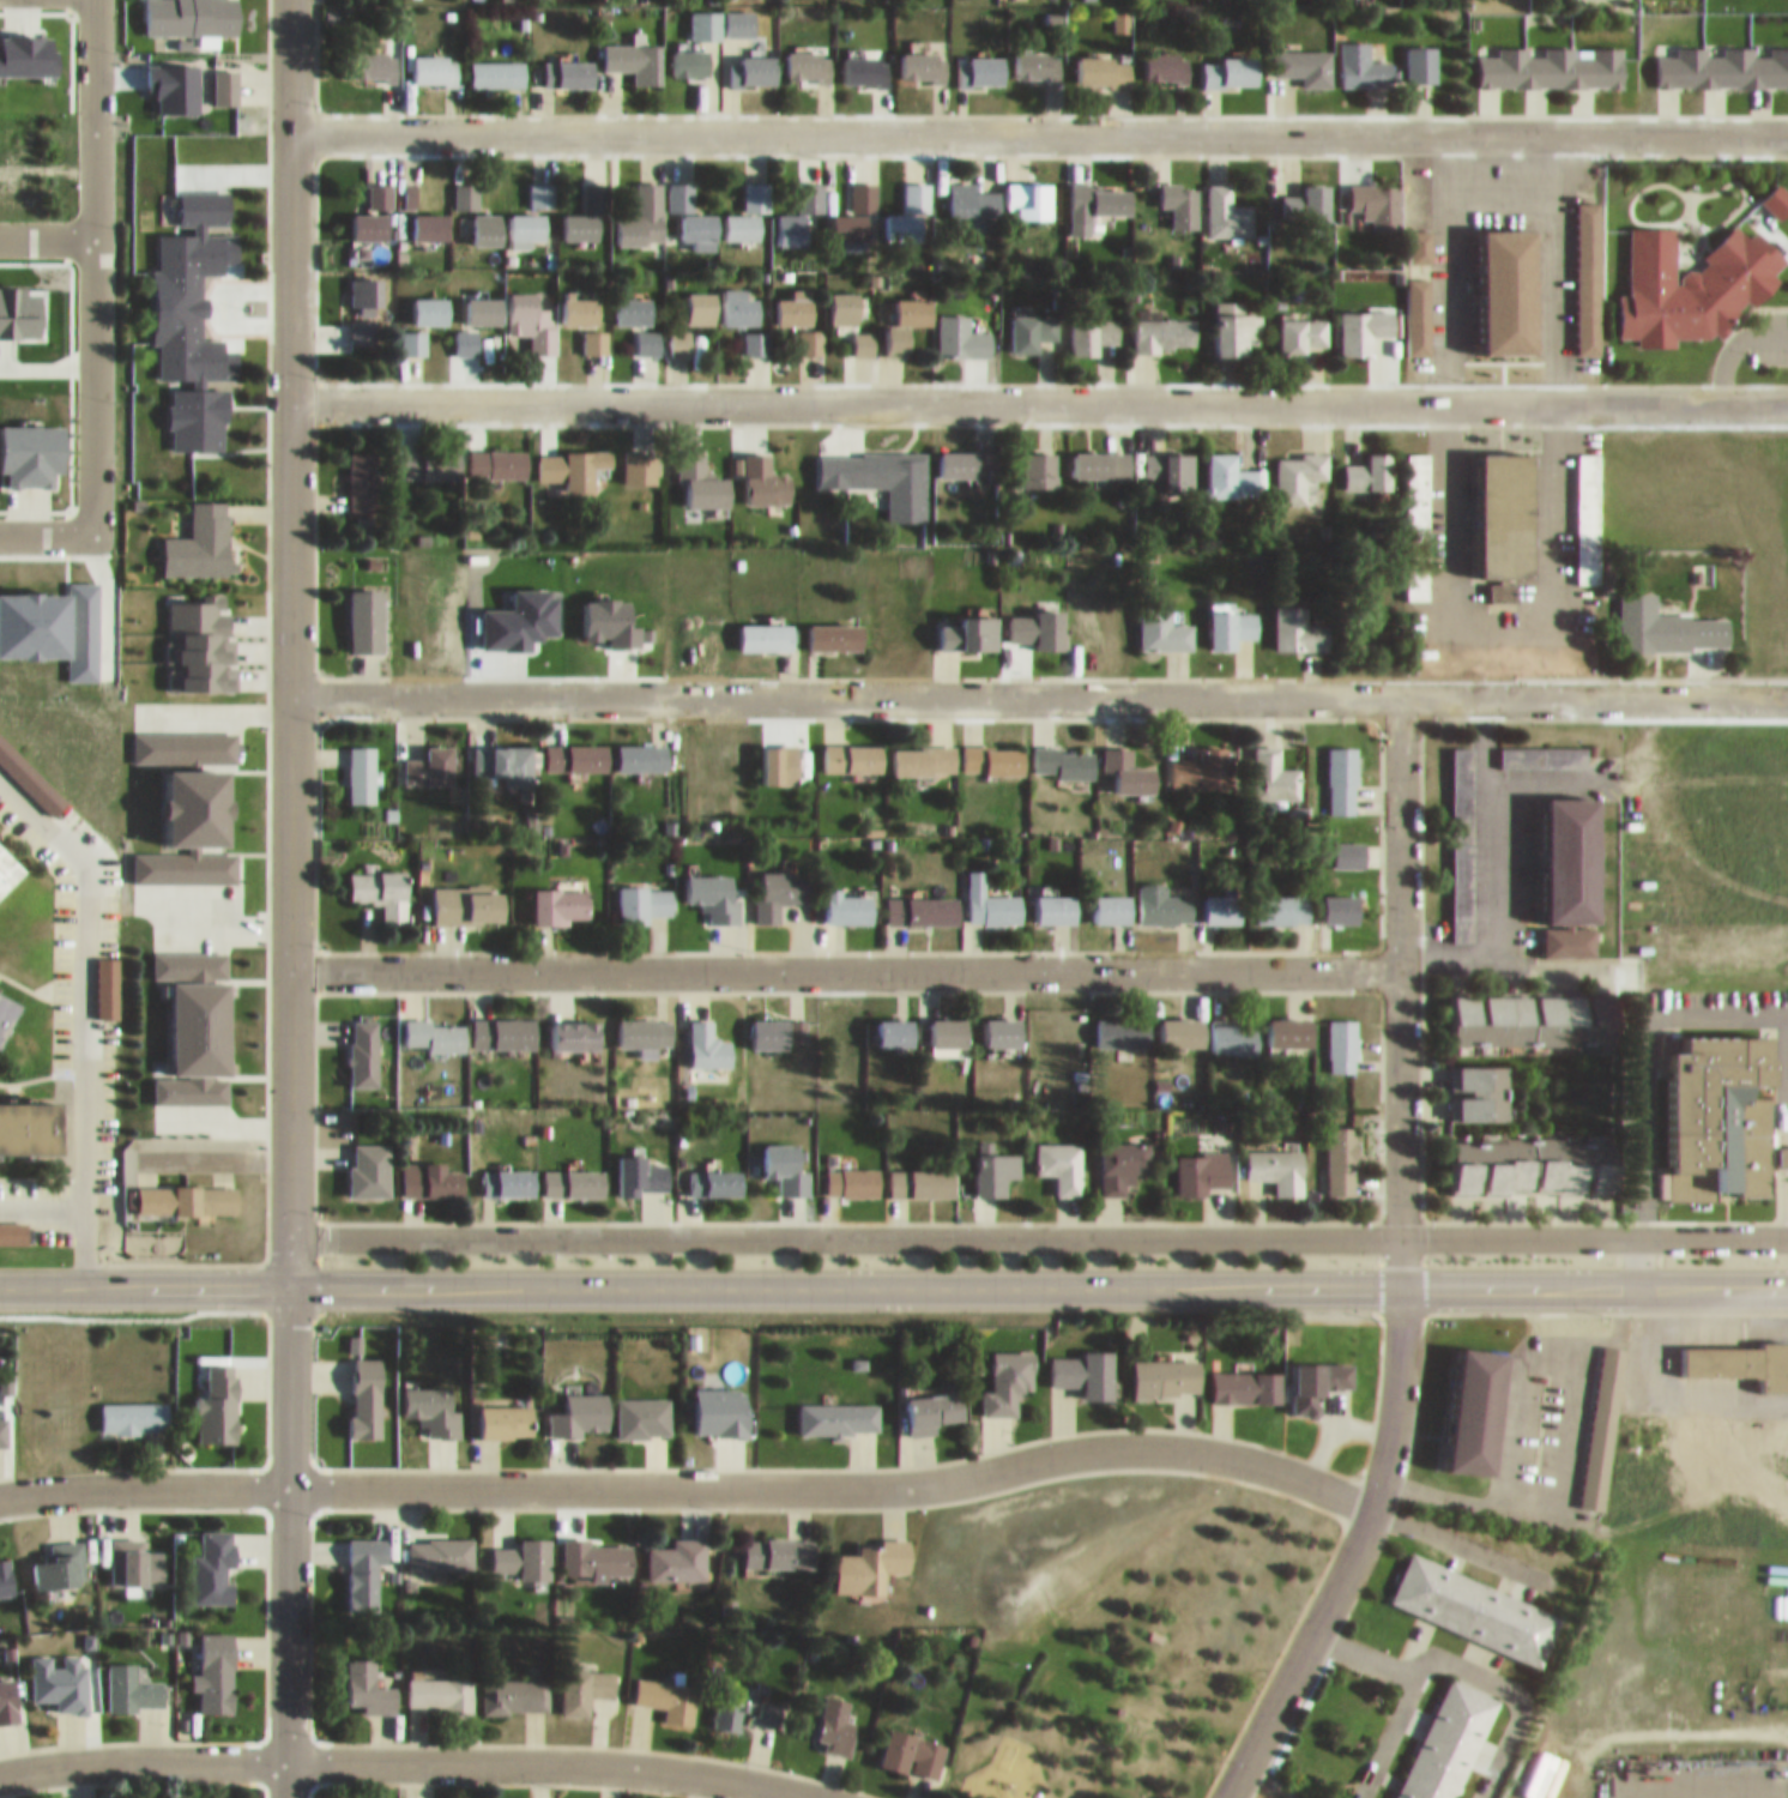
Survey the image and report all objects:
building: (1550, 0)
building: (1653, 1)
building: (192, 12)
building: (741, 12)
building: (706, 14)
building: (1717, 46)
building: (636, 50)
building: (691, 52)
building: (1422, 53)
building: (809, 54)
building: (375, 56)
building: (924, 56)
building: (1167, 56)
building: (1306, 56)
building: (1365, 56)
building: (1038, 58)
building: (1553, 58)
building: (753, 60)
building: (866, 60)
building: (981, 60)
building: (435, 61)
building: (1107, 61)
building: (1236, 61)
building: (497, 64)
building: (568, 64)
building: (225, 77)
road: (1039, 126)
building: (940, 176)
building: (542, 185)
building: (379, 186)
building: (465, 186)
building: (1032, 191)
building: (1098, 193)
building: (1780, 193)
building: (1182, 194)
building: (1378, 194)
building: (971, 195)
building: (1310, 195)
building: (749, 204)
building: (1228, 204)
building: (801, 205)
building: (908, 205)
building: (586, 206)
building: (857, 206)
building: (642, 209)
building: (691, 210)
building: (370, 216)
building: (429, 216)
building: (487, 221)
building: (528, 221)
road: (47, 239)
road: (95, 261)
building: (1695, 276)
building: (1514, 279)
building: (364, 282)
building: (192, 295)
building: (723, 297)
building: (796, 298)
building: (847, 298)
building: (1590, 298)
building: (431, 301)
building: (483, 301)
building: (581, 301)
building: (633, 301)
building: (533, 309)
building: (910, 313)
building: (1365, 320)
building: (362, 321)
building: (1032, 322)
building: (1240, 324)
building: (1166, 326)
building: (1304, 326)
building: (964, 328)
building: (1097, 328)
building: (648, 332)
building: (682, 332)
building: (811, 332)
building: (413, 333)
building: (466, 333)
building: (757, 333)
building: (864, 333)
road: (1039, 392)
building: (497, 454)
building: (1100, 454)
building: (431, 455)
building: (971, 455)
building: (642, 457)
building: (579, 460)
building: (1040, 460)
building: (1171, 460)
building: (1370, 464)
building: (1299, 466)
building: (1232, 467)
building: (893, 470)
building: (766, 471)
building: (362, 472)
building: (702, 472)
building: (1418, 484)
building: (1508, 506)
building: (1589, 508)
road: (48, 524)
building: (201, 533)
building: (1419, 574)
road: (107, 601)
building: (366, 610)
building: (1653, 616)
building: (1233, 619)
building: (1039, 620)
building: (1300, 620)
building: (1164, 622)
building: (971, 625)
building: (835, 627)
building: (767, 628)
road: (290, 638)
road: (1038, 688)
building: (576, 748)
building: (642, 748)
building: (854, 748)
building: (1544, 748)
building: (926, 752)
building: (995, 752)
building: (506, 754)
building: (1064, 754)
building: (20, 759)
building: (430, 759)
building: (1202, 760)
building: (1130, 762)
building: (361, 765)
building: (1274, 766)
building: (1343, 772)
building: (1462, 774)
building: (1348, 846)
building: (1579, 851)
building: (10, 861)
building: (780, 882)
building: (382, 883)
building: (714, 887)
building: (647, 894)
building: (992, 895)
building: (470, 897)
building: (850, 898)
building: (1283, 898)
building: (1058, 900)
building: (1144, 900)
building: (1225, 900)
building: (1345, 900)
building: (924, 901)
building: (1570, 933)
building: (191, 955)
road: (845, 961)
building: (108, 978)
road: (1401, 983)
building: (8, 1007)
road: (83, 1009)
building: (1518, 1010)
building: (777, 1022)
building: (1003, 1022)
building: (1124, 1022)
building: (1183, 1022)
building: (1293, 1022)
building: (506, 1024)
building: (895, 1024)
building: (437, 1025)
building: (646, 1025)
building: (950, 1026)
building: (1236, 1027)
building: (203, 1034)
building: (711, 1036)
building: (1343, 1036)
building: (366, 1044)
building: (1434, 1068)
building: (1484, 1084)
building: (1722, 1111)
building: (32, 1120)
building: (1783, 1147)
building: (1343, 1152)
building: (1063, 1156)
building: (1125, 1156)
building: (1535, 1158)
building: (786, 1159)
building: (372, 1160)
building: (1279, 1160)
building: (1201, 1163)
building: (997, 1164)
building: (642, 1165)
building: (511, 1172)
building: (853, 1172)
building: (575, 1173)
building: (715, 1173)
building: (923, 1173)
building: (429, 1175)
building: (189, 1190)
road: (41, 1194)
building: (12, 1223)
road: (1038, 1226)
road: (893, 1277)
building: (1724, 1349)
building: (1086, 1364)
building: (1168, 1369)
building: (1010, 1372)
building: (1319, 1375)
building: (1248, 1378)
building: (367, 1388)
building: (219, 1396)
building: (434, 1399)
building: (1463, 1400)
building: (720, 1402)
building: (936, 1402)
building: (582, 1406)
building: (134, 1407)
building: (644, 1407)
parking lot: (1551, 1407)
building: (839, 1408)
building: (509, 1412)
road: (1567, 1414)
building: (1594, 1416)
building: (4, 1423)
road: (693, 1477)
road: (1461, 1533)
road: (286, 1537)
building: (779, 1540)
building: (441, 1541)
building: (525, 1546)
building: (598, 1547)
building: (678, 1549)
road: (1349, 1549)
building: (137, 1550)
building: (872, 1552)
building: (61, 1555)
building: (215, 1555)
building: (364, 1562)
building: (6, 1564)
building: (1478, 1598)
road: (1363, 1645)
road: (1457, 1653)
building: (216, 1661)
building: (61, 1671)
building: (368, 1676)
building: (133, 1677)
building: (585, 1678)
building: (442, 1682)
building: (515, 1683)
building: (669, 1687)
building: (8, 1688)
building: (745, 1696)
building: (835, 1712)
building: (1448, 1736)
building: (914, 1742)
road: (422, 1748)
road: (1685, 1779)
road: (1780, 1779)
road: (1771, 1788)

